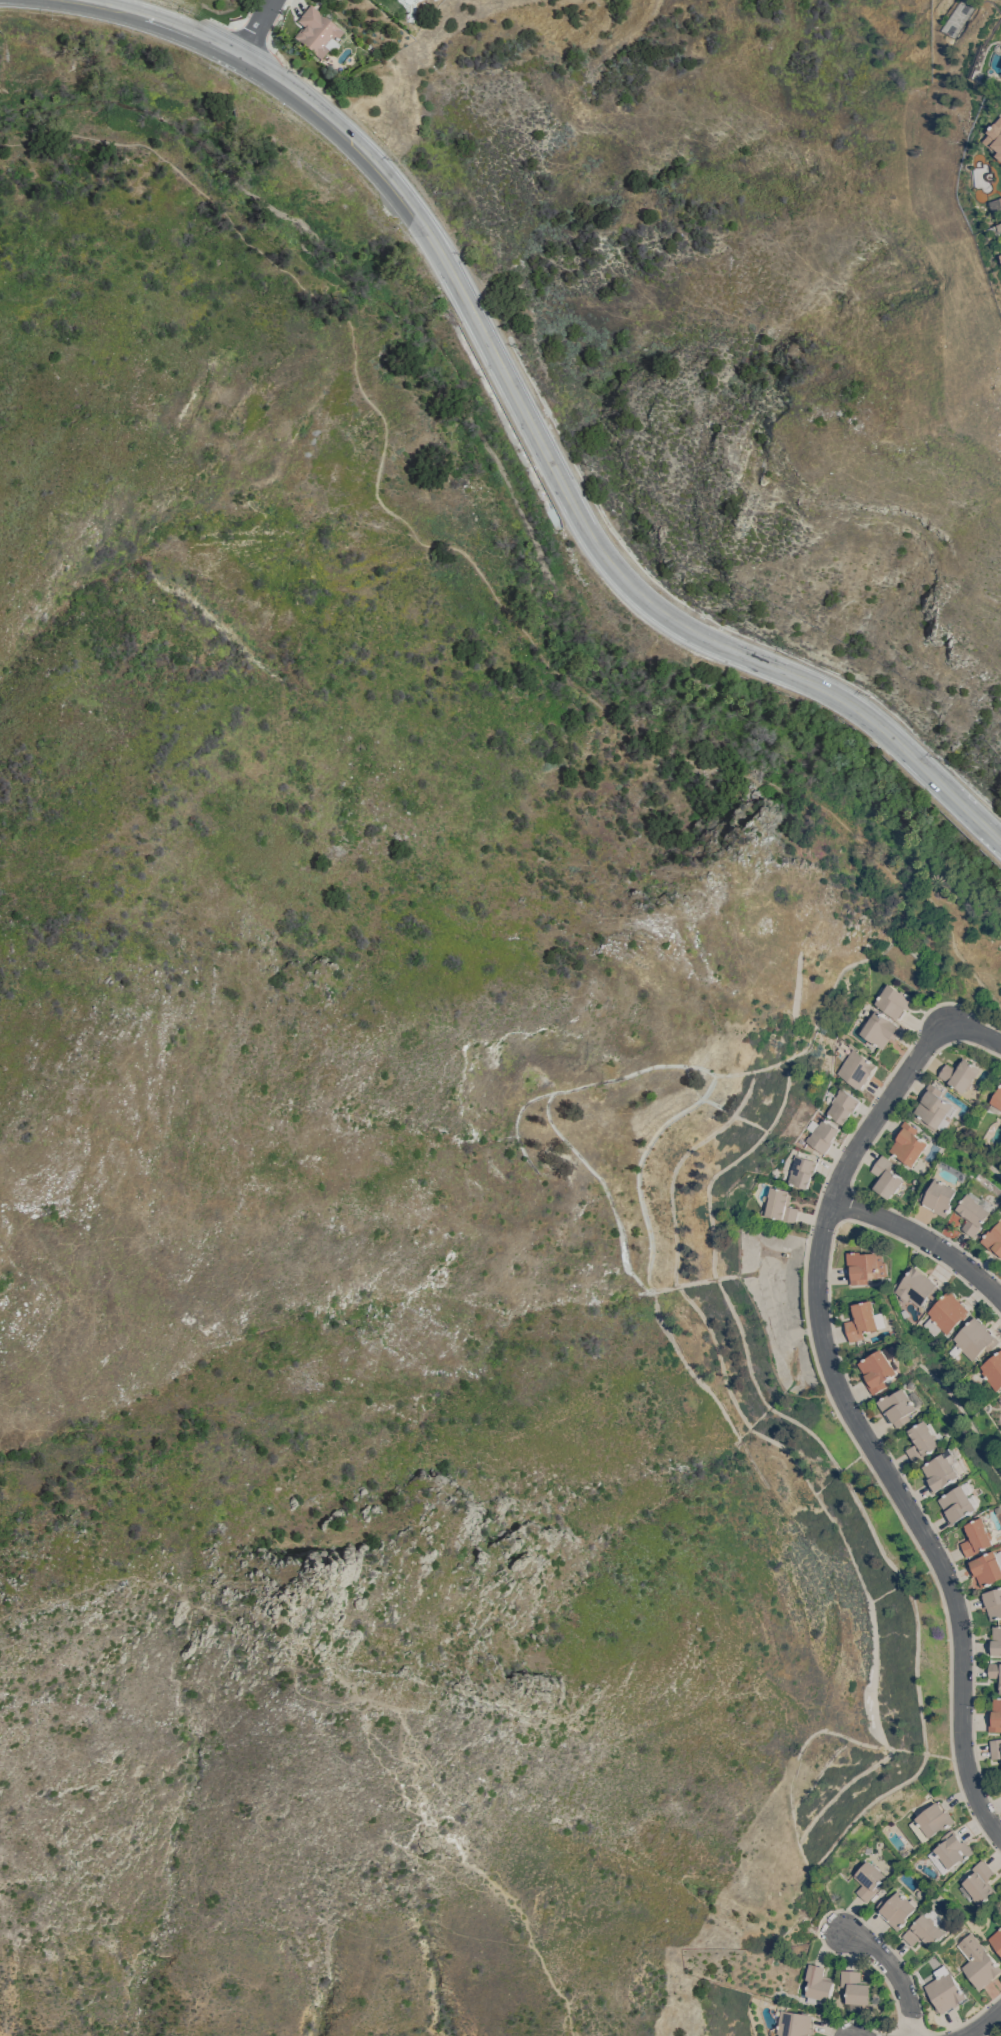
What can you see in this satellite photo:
road: (237, 4)
road: (205, 8)
road: (256, 27)
building: (318, 33)
building: (995, 137)
building: (995, 204)
building: (1000, 226)
road: (529, 421)
road: (468, 554)
building: (894, 1000)
building: (880, 1029)
road: (975, 1029)
building: (856, 1068)
building: (962, 1074)
building: (996, 1103)
building: (842, 1105)
building: (934, 1108)
building: (822, 1134)
building: (909, 1143)
building: (802, 1170)
building: (886, 1177)
building: (941, 1196)
building: (781, 1204)
building: (977, 1212)
road: (922, 1238)
building: (994, 1239)
building: (866, 1266)
building: (917, 1286)
building: (947, 1314)
building: (864, 1320)
building: (975, 1339)
building: (879, 1369)
building: (993, 1370)
building: (912, 1384)
building: (1000, 1399)
building: (900, 1405)
road: (857, 1423)
building: (924, 1440)
building: (940, 1472)
building: (961, 1502)
building: (980, 1537)
building: (987, 1568)
building: (993, 1602)
building: (996, 1641)
building: (996, 1669)
road: (337, 1703)
building: (996, 1716)
building: (996, 1748)
building: (935, 1818)
building: (951, 1852)
building: (869, 1879)
building: (979, 1883)
building: (896, 1907)
building: (925, 1929)
building: (996, 1939)
building: (978, 1961)
road: (894, 1973)
building: (818, 1983)
building: (856, 1987)
building: (945, 1989)
road: (982, 2022)
building: (794, 2023)

